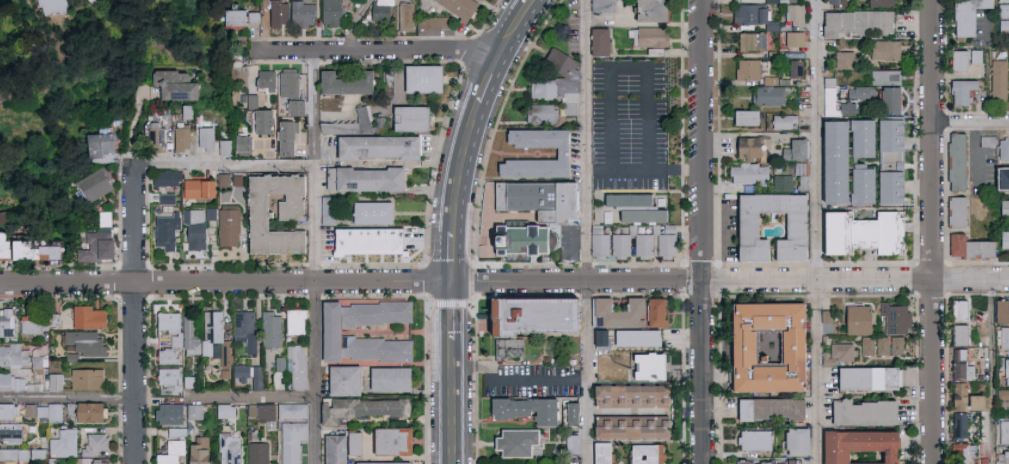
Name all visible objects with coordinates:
building: (97, 0)
building: (786, 0)
building: (1003, 0)
building: (259, 3)
building: (880, 3)
building: (834, 4)
building: (60, 6)
building: (456, 6)
building: (599, 6)
building: (646, 10)
building: (276, 12)
building: (330, 12)
building: (299, 13)
building: (792, 13)
building: (229, 16)
building: (251, 16)
building: (963, 16)
building: (1003, 18)
building: (863, 22)
road: (354, 24)
road: (519, 24)
building: (827, 24)
building: (649, 37)
building: (792, 39)
building: (749, 41)
building: (595, 42)
road: (380, 50)
building: (885, 50)
building: (1008, 55)
building: (975, 56)
building: (842, 60)
building: (956, 60)
building: (793, 68)
park: (84, 69)
road: (627, 69)
building: (745, 69)
road: (491, 75)
building: (416, 77)
building: (885, 77)
building: (264, 78)
building: (998, 79)
building: (556, 80)
building: (339, 81)
building: (286, 82)
building: (173, 84)
building: (960, 91)
building: (857, 92)
building: (767, 94)
building: (888, 100)
building: (291, 105)
building: (836, 106)
building: (540, 112)
building: (739, 115)
building: (409, 117)
building: (782, 120)
road: (971, 122)
building: (272, 128)
building: (856, 136)
building: (203, 137)
building: (155, 138)
building: (180, 138)
building: (889, 138)
road: (587, 139)
road: (704, 139)
building: (241, 142)
building: (96, 145)
building: (371, 145)
building: (222, 146)
building: (748, 146)
building: (1003, 148)
building: (793, 149)
road: (977, 151)
building: (559, 152)
building: (828, 160)
building: (954, 160)
road: (224, 165)
road: (463, 166)
road: (589, 169)
road: (628, 169)
road: (685, 169)
building: (746, 173)
building: (164, 177)
building: (781, 182)
building: (91, 184)
building: (856, 184)
building: (888, 186)
building: (194, 187)
building: (164, 197)
building: (536, 198)
building: (631, 206)
building: (1004, 206)
building: (954, 210)
building: (367, 211)
building: (207, 212)
building: (256, 212)
building: (103, 218)
building: (742, 224)
building: (225, 226)
building: (191, 228)
building: (162, 230)
building: (841, 231)
road: (934, 231)
road: (819, 232)
building: (887, 232)
building: (526, 238)
building: (362, 239)
building: (662, 239)
building: (597, 240)
building: (1005, 240)
building: (92, 244)
building: (618, 244)
building: (641, 244)
building: (967, 246)
building: (12, 247)
building: (42, 252)
road: (316, 256)
road: (455, 256)
road: (504, 280)
road: (454, 309)
building: (956, 309)
building: (614, 310)
building: (999, 310)
building: (652, 311)
building: (374, 312)
building: (523, 313)
road: (136, 315)
building: (895, 317)
building: (855, 318)
building: (61, 319)
building: (164, 321)
building: (293, 321)
building: (5, 322)
building: (837, 322)
building: (243, 328)
building: (269, 328)
building: (326, 330)
building: (210, 333)
building: (188, 334)
building: (958, 334)
building: (633, 336)
building: (1004, 337)
building: (82, 342)
building: (865, 344)
building: (888, 344)
building: (759, 345)
building: (516, 347)
building: (374, 348)
building: (839, 350)
building: (224, 352)
building: (166, 355)
building: (21, 357)
building: (824, 359)
building: (278, 363)
building: (643, 365)
building: (960, 365)
building: (294, 366)
road: (992, 370)
building: (239, 371)
road: (706, 371)
building: (1006, 371)
road: (589, 372)
building: (166, 375)
building: (255, 376)
building: (864, 376)
building: (385, 377)
building: (84, 378)
building: (338, 379)
road: (521, 379)
building: (53, 380)
building: (10, 381)
building: (1003, 393)
building: (627, 394)
road: (254, 397)
building: (961, 397)
road: (68, 399)
road: (454, 402)
building: (359, 407)
building: (767, 407)
building: (522, 408)
building: (290, 409)
building: (21, 410)
building: (84, 410)
building: (193, 410)
building: (223, 410)
building: (259, 411)
building: (857, 411)
building: (53, 412)
building: (1008, 412)
building: (166, 413)
building: (569, 413)
building: (957, 424)
building: (626, 426)
building: (1003, 431)
building: (9, 432)
building: (750, 439)
building: (290, 440)
building: (386, 440)
building: (791, 440)
building: (512, 441)
building: (349, 442)
building: (61, 443)
building: (92, 443)
building: (569, 444)
building: (854, 446)
building: (168, 448)
building: (330, 448)
building: (958, 451)
building: (35, 452)
building: (256, 452)
building: (598, 452)
building: (13, 453)
building: (192, 453)
building: (641, 453)
building: (1002, 459)
building: (983, 460)
building: (1, 462)
building: (96, 462)
building: (381, 462)
building: (762, 462)

